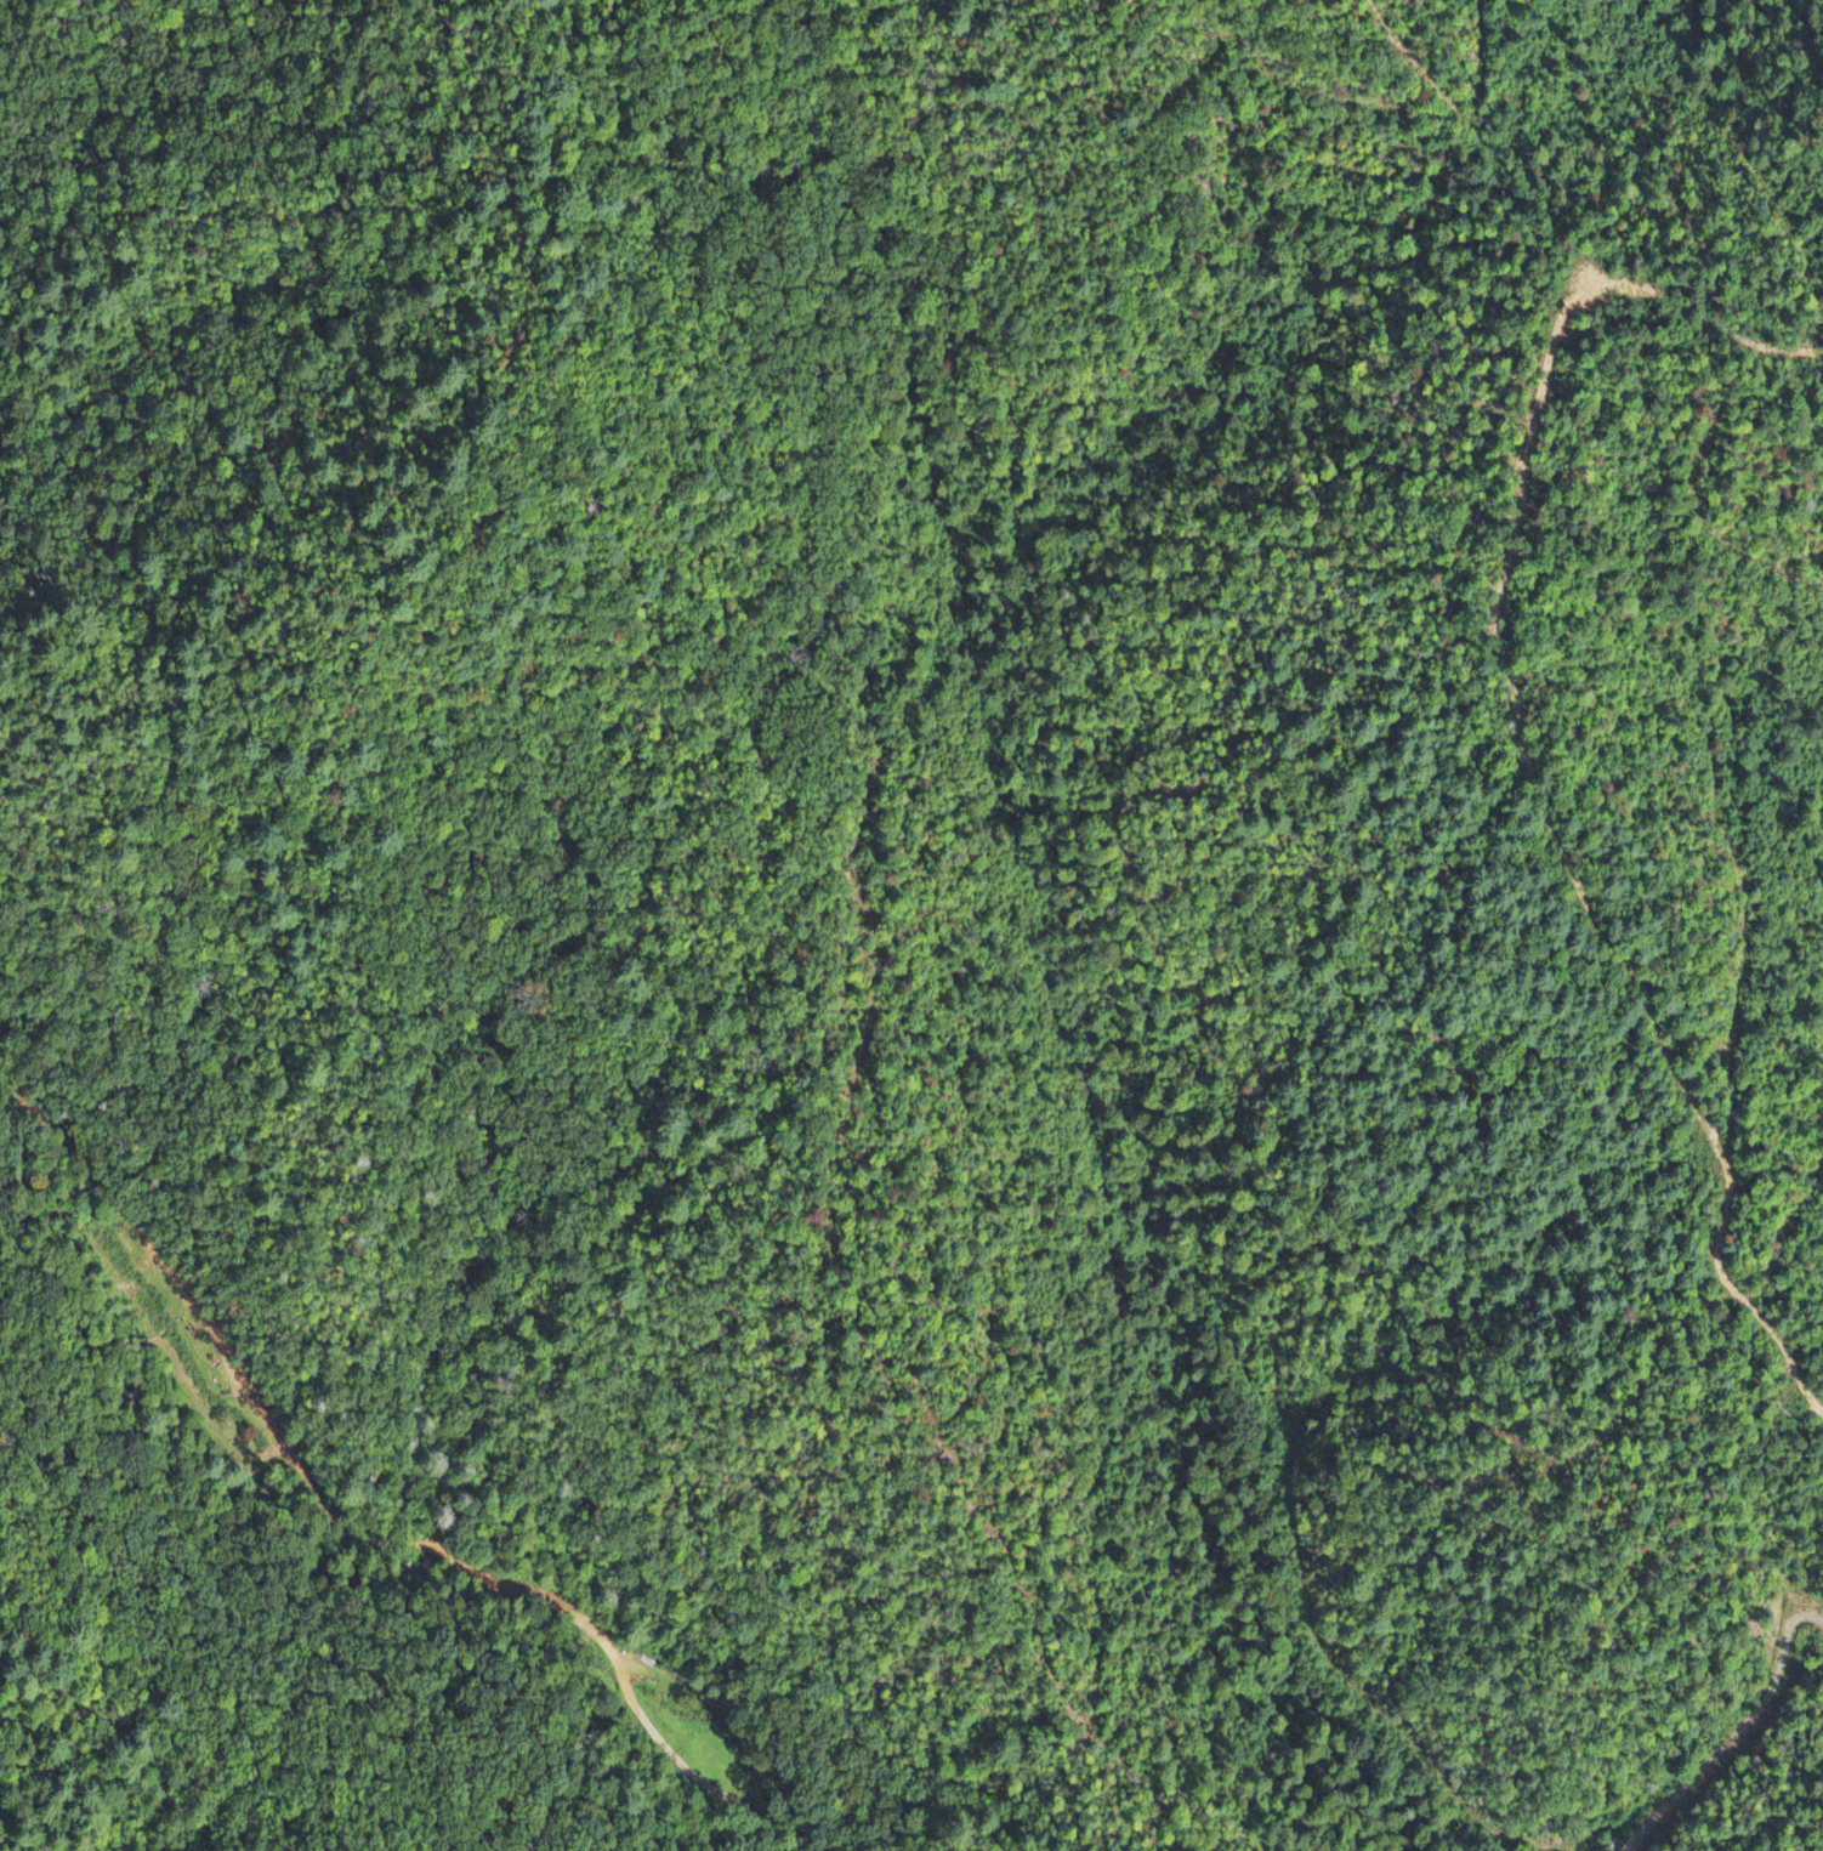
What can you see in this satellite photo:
road: (342, 1491)

